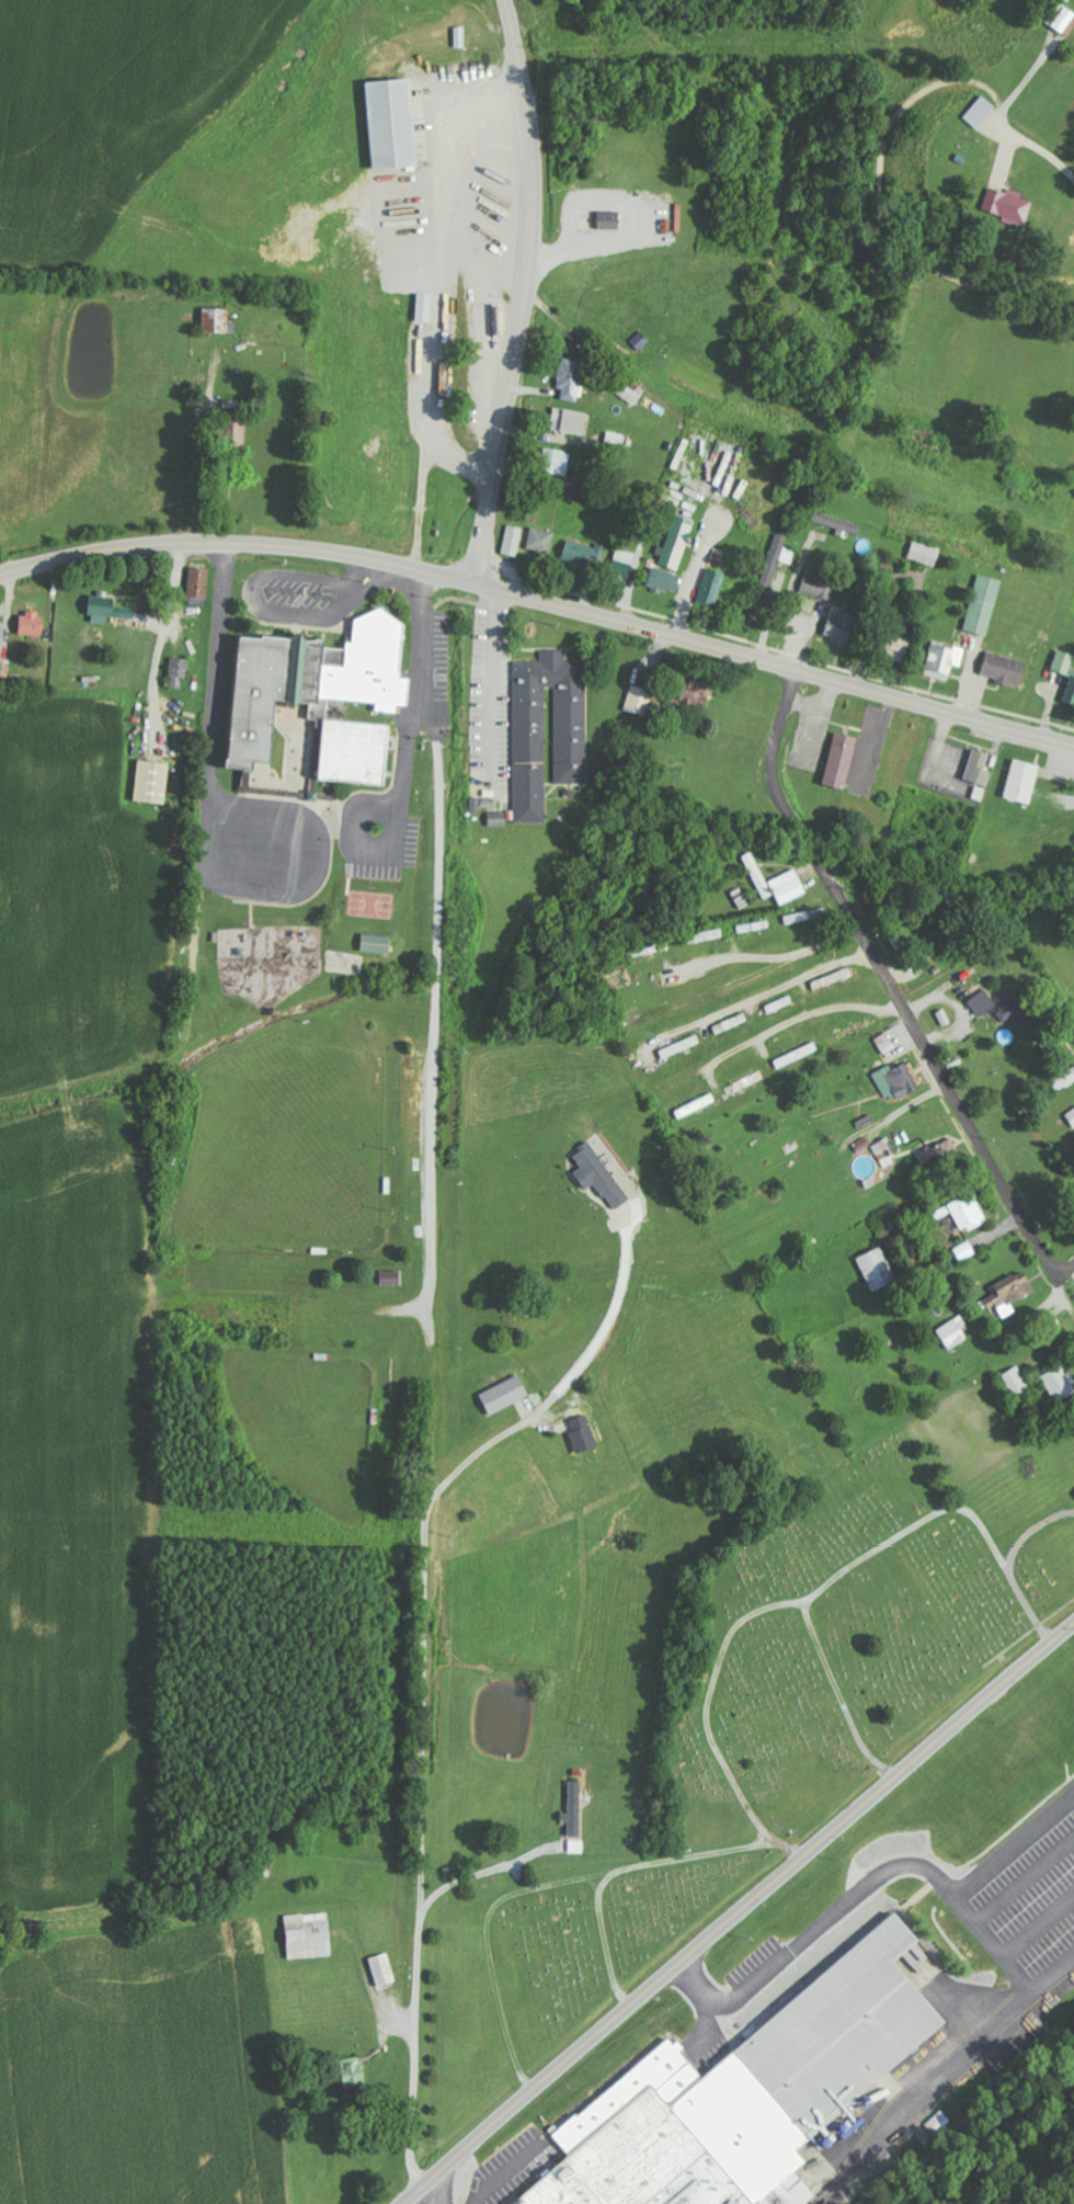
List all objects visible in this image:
building: (1063, 21)
building: (461, 37)
building: (979, 112)
building: (392, 122)
building: (1008, 204)
building: (610, 219)
road: (525, 293)
building: (425, 307)
building: (217, 319)
building: (571, 378)
building: (570, 420)
building: (616, 439)
building: (555, 461)
road: (59, 482)
building: (575, 482)
building: (839, 524)
building: (512, 539)
building: (540, 539)
building: (676, 542)
road: (236, 544)
building: (582, 553)
building: (926, 553)
building: (777, 560)
building: (622, 563)
building: (666, 580)
building: (199, 581)
building: (818, 587)
building: (712, 588)
building: (984, 604)
building: (108, 609)
building: (33, 623)
building: (841, 626)
building: (2, 639)
building: (899, 646)
building: (944, 660)
road: (772, 664)
building: (1005, 669)
building: (180, 670)
building: (1065, 670)
building: (694, 690)
building: (325, 695)
building: (640, 700)
building: (571, 735)
road: (935, 746)
building: (842, 760)
building: (972, 768)
building: (153, 781)
building: (1024, 781)
building: (756, 875)
building: (788, 886)
building: (807, 916)
building: (378, 943)
building: (904, 952)
road: (751, 977)
road: (887, 978)
road: (764, 996)
building: (982, 1002)
building: (1021, 1014)
road: (782, 1026)
building: (884, 1041)
building: (899, 1080)
building: (1063, 1080)
building: (1071, 1116)
building: (886, 1152)
building: (942, 1154)
building: (599, 1175)
building: (966, 1213)
building: (964, 1251)
road: (1064, 1265)
building: (878, 1269)
building: (391, 1277)
building: (1010, 1292)
road: (1033, 1307)
building: (953, 1332)
building: (1016, 1383)
building: (1060, 1384)
building: (506, 1395)
park: (769, 1718)
building: (575, 1808)
building: (576, 1845)
road: (776, 1882)
building: (310, 1934)
building: (384, 1968)
building: (353, 2070)
building: (749, 2095)
building: (937, 2122)
road: (442, 2171)
road: (431, 2193)

